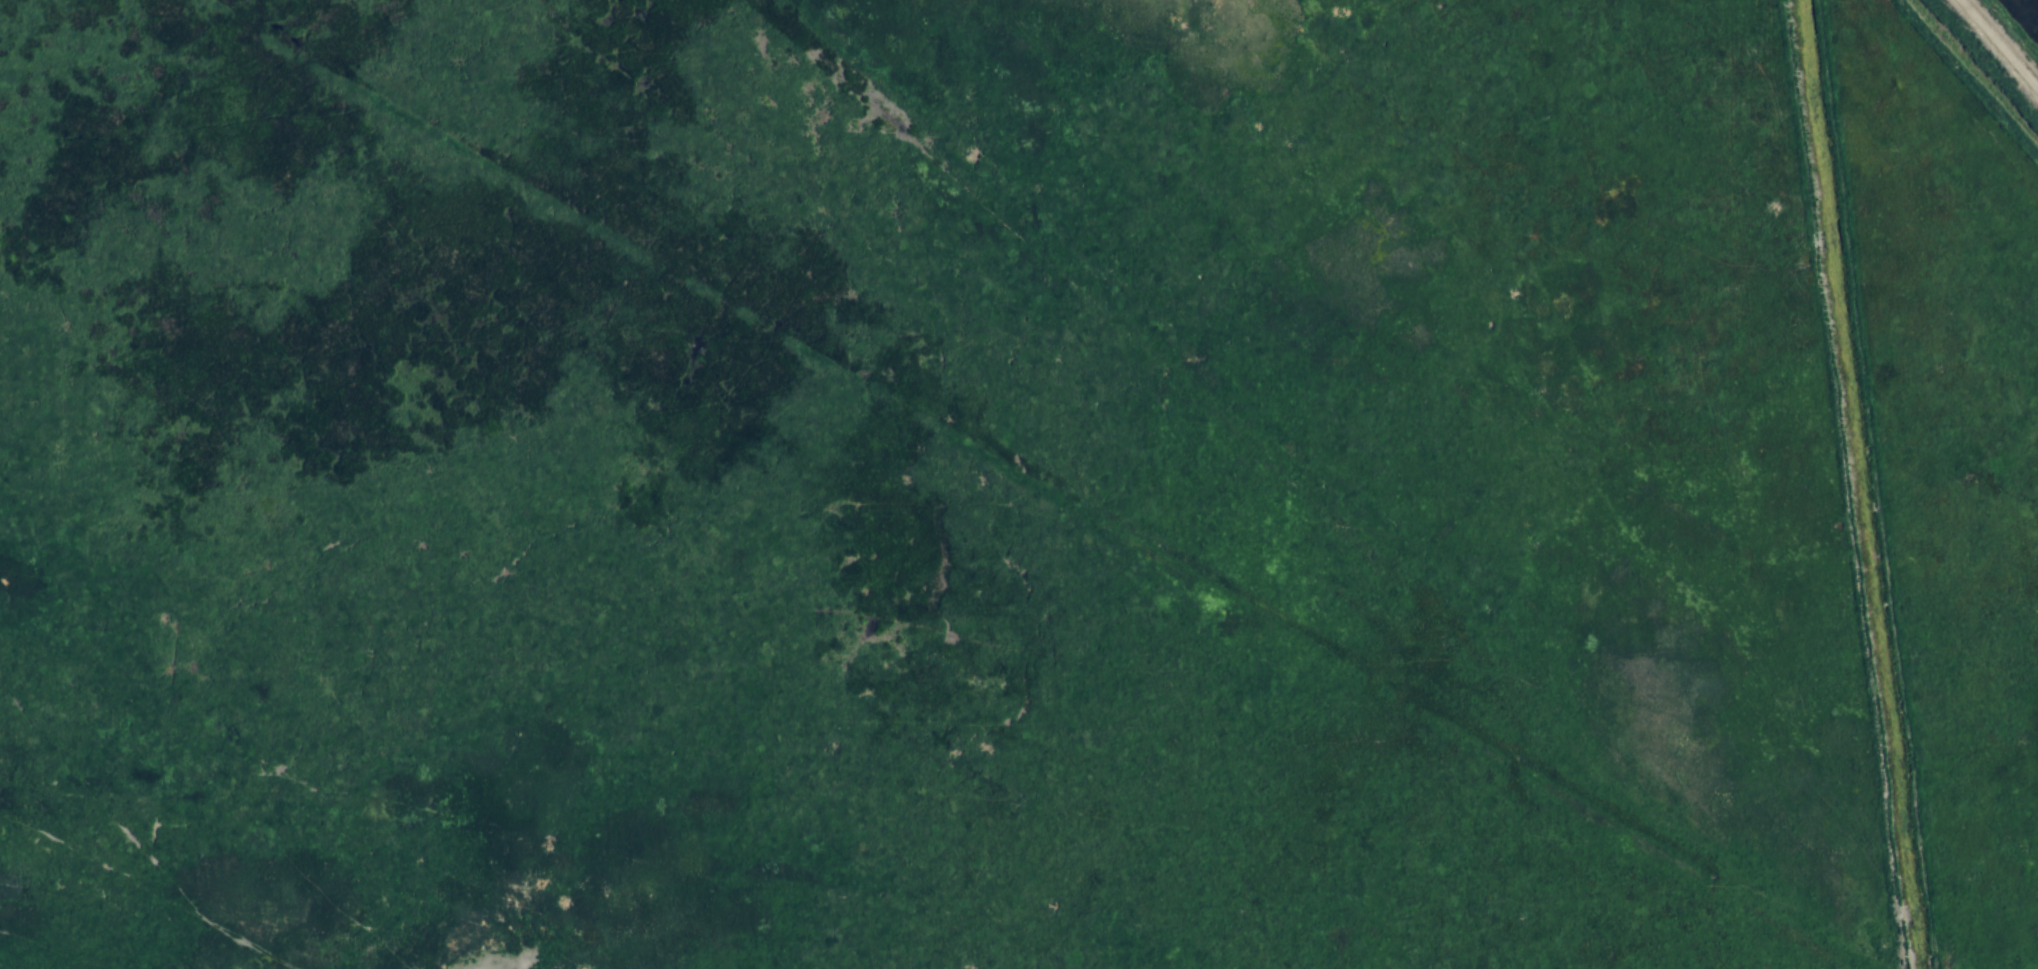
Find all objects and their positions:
river: (2025, 14)
road: (1981, 68)

